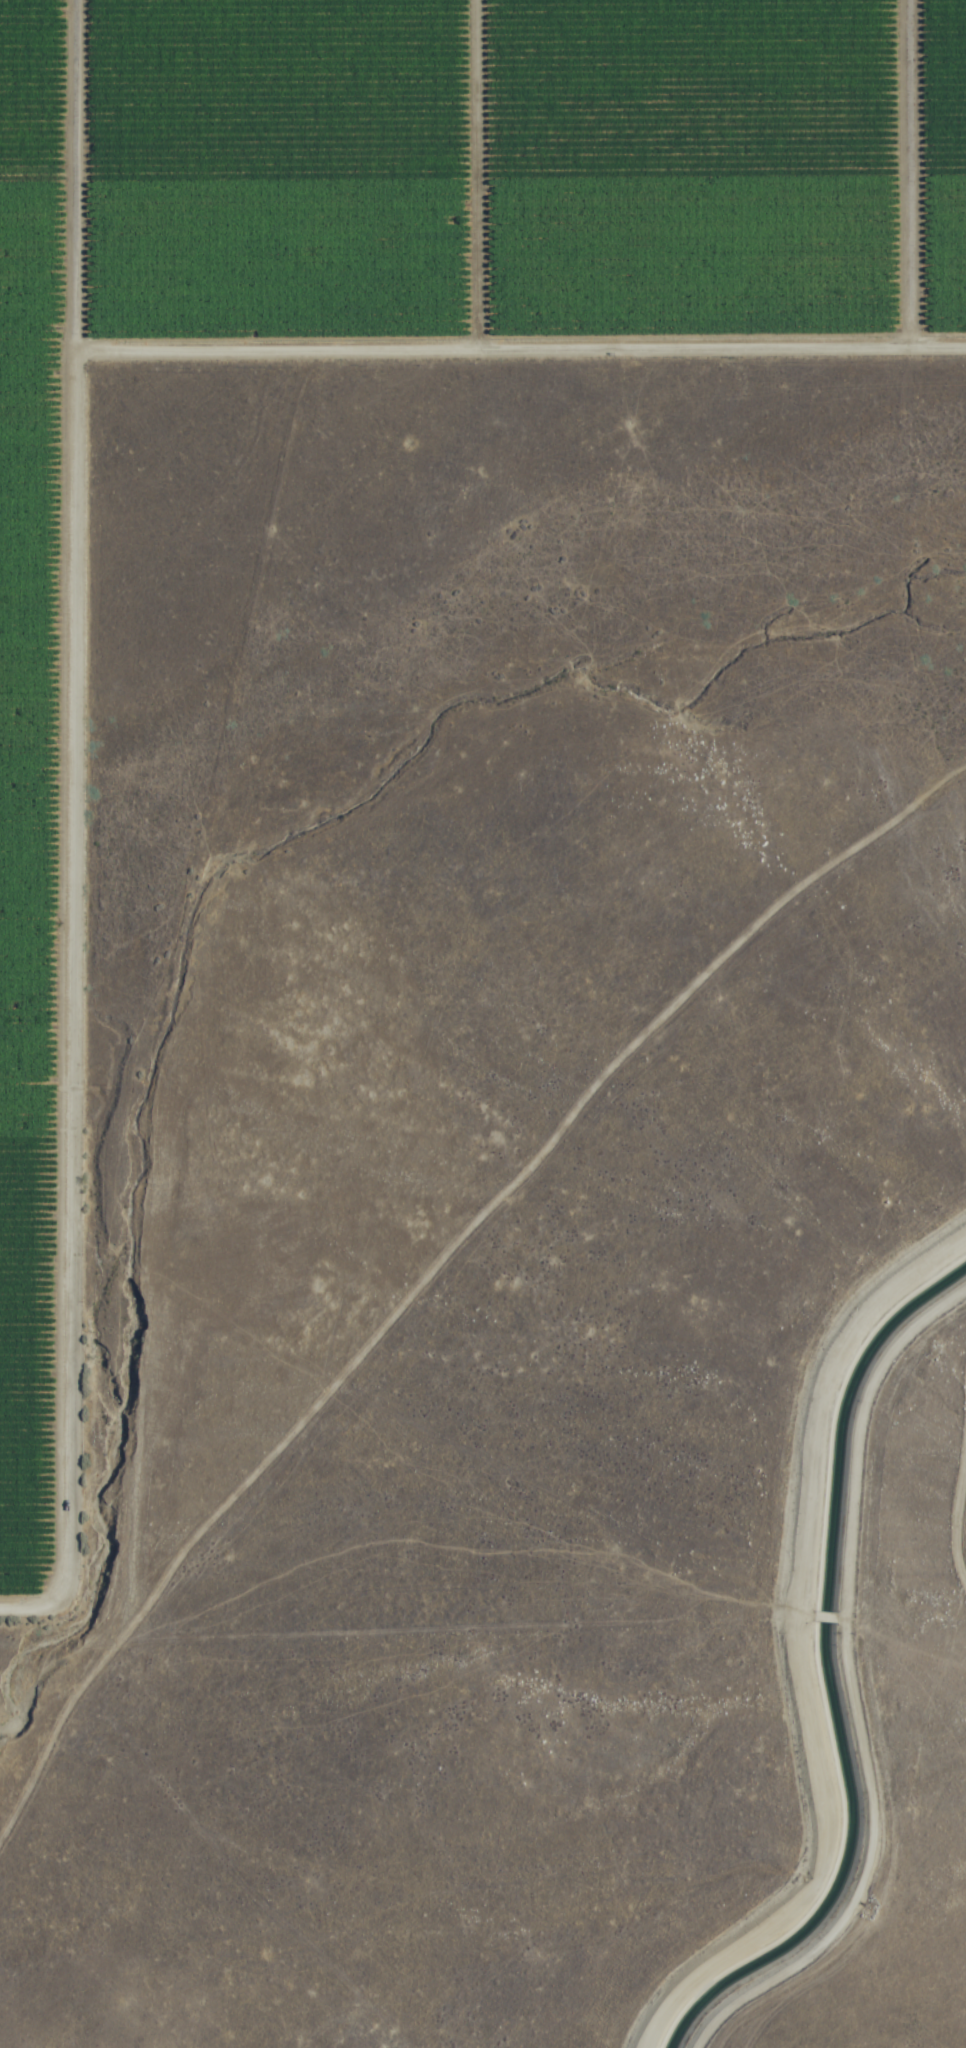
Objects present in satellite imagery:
crop: (390, 332)
road: (429, 1192)
road: (758, 1513)
road: (206, 1825)

